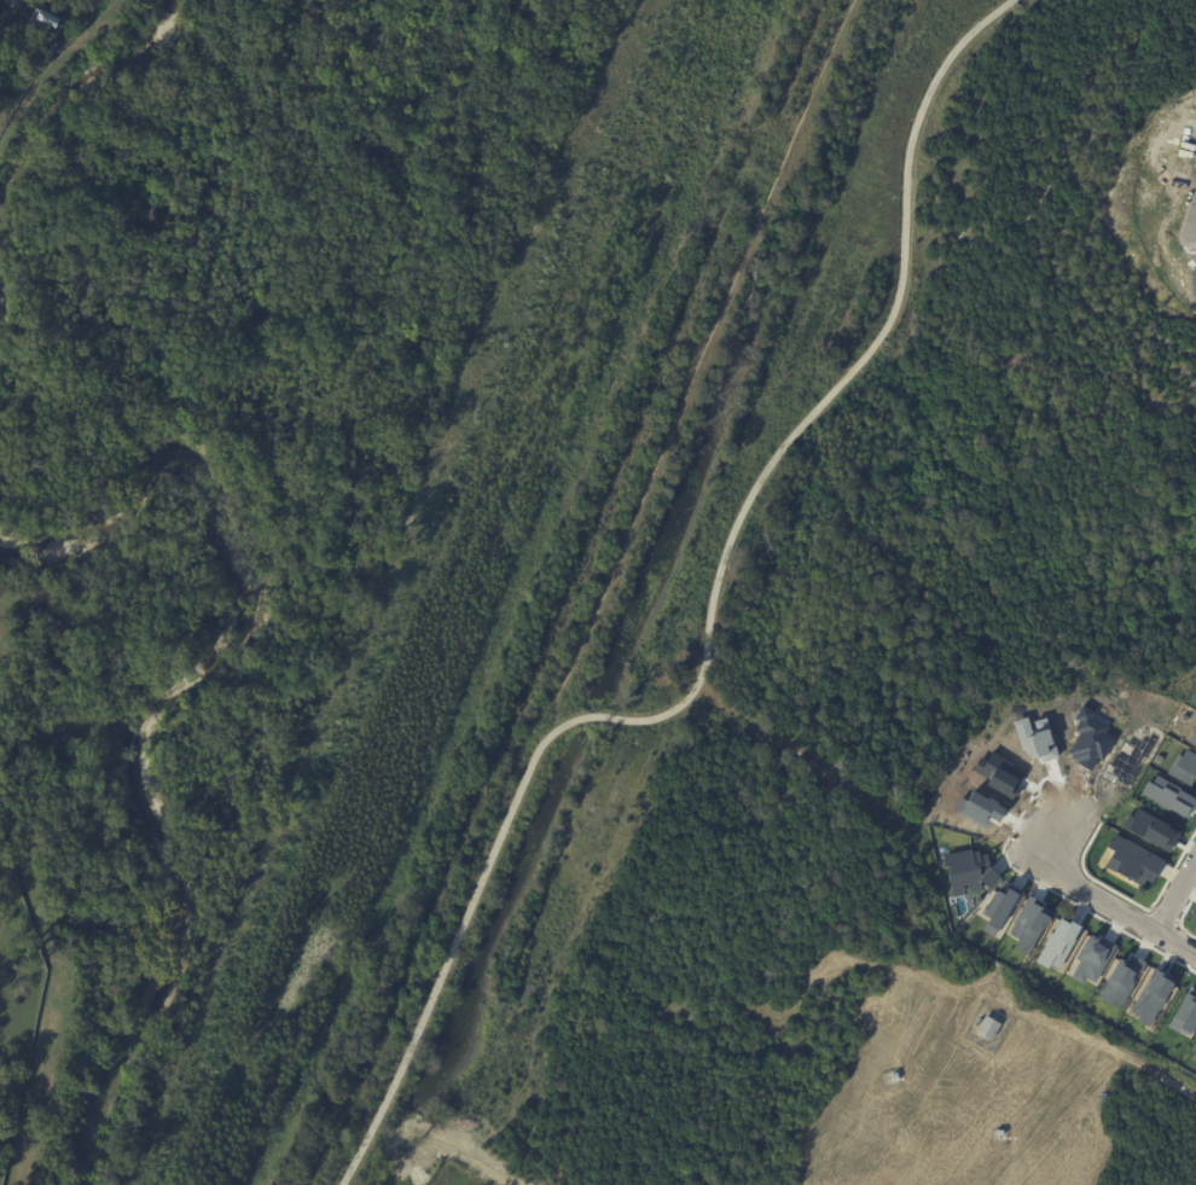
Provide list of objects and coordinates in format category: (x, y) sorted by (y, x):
building: (58, 1)
building: (48, 18)
road: (709, 623)
building: (1132, 861)
building: (966, 871)
road: (1175, 888)
road: (1108, 893)
building: (987, 1029)
building: (1194, 1047)
building: (893, 1079)
building: (997, 1134)

